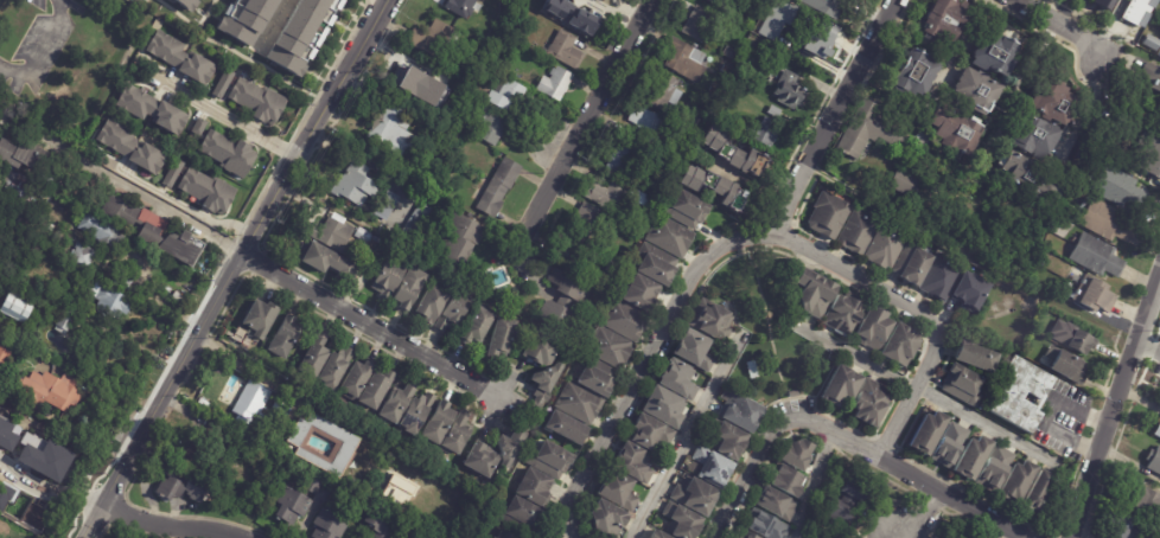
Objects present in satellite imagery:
building: (608, 0)
building: (1105, 0)
building: (191, 2)
building: (719, 4)
building: (824, 6)
building: (463, 7)
building: (592, 8)
building: (1137, 12)
building: (573, 15)
building: (246, 18)
building: (942, 19)
building: (769, 20)
building: (1153, 21)
road: (1063, 24)
road: (276, 25)
building: (695, 25)
building: (304, 33)
building: (805, 38)
building: (434, 39)
building: (773, 39)
building: (1149, 41)
building: (752, 44)
building: (992, 49)
building: (566, 51)
building: (1158, 51)
road: (39, 52)
building: (726, 52)
building: (483, 56)
building: (184, 59)
building: (687, 59)
building: (725, 70)
building: (911, 72)
building: (412, 76)
road: (1020, 76)
building: (1151, 77)
building: (222, 83)
building: (559, 83)
building: (422, 88)
building: (971, 88)
building: (714, 89)
building: (792, 90)
building: (667, 94)
building: (506, 96)
building: (467, 97)
building: (1047, 102)
building: (263, 104)
building: (778, 110)
building: (154, 113)
road: (831, 116)
road: (227, 119)
road: (585, 119)
building: (696, 121)
building: (753, 121)
building: (648, 122)
building: (950, 126)
building: (493, 127)
building: (676, 129)
building: (395, 130)
building: (868, 132)
building: (769, 133)
building: (697, 134)
building: (1027, 134)
building: (1159, 136)
building: (919, 140)
building: (133, 149)
building: (733, 152)
building: (231, 154)
building: (1149, 155)
building: (25, 158)
building: (624, 159)
building: (172, 172)
building: (1026, 175)
building: (1142, 175)
road: (120, 180)
building: (50, 182)
building: (905, 182)
building: (358, 185)
building: (19, 186)
building: (718, 186)
building: (1113, 186)
building: (501, 187)
building: (210, 193)
building: (613, 198)
road: (177, 203)
building: (390, 205)
building: (691, 209)
building: (826, 216)
building: (644, 220)
building: (1102, 220)
building: (416, 223)
building: (914, 230)
building: (856, 231)
building: (103, 232)
building: (579, 232)
building: (158, 233)
building: (338, 235)
building: (365, 235)
building: (674, 236)
road: (742, 237)
building: (380, 239)
building: (460, 242)
building: (884, 246)
building: (1092, 256)
building: (85, 258)
building: (330, 262)
building: (662, 263)
building: (911, 263)
road: (231, 267)
building: (614, 268)
building: (1064, 274)
building: (941, 276)
building: (126, 281)
building: (400, 284)
building: (1066, 284)
building: (968, 292)
building: (809, 293)
building: (645, 295)
building: (1091, 295)
building: (503, 300)
building: (110, 302)
building: (567, 303)
building: (445, 307)
building: (17, 308)
building: (72, 310)
building: (842, 313)
building: (765, 315)
building: (261, 319)
building: (627, 319)
building: (708, 322)
building: (64, 326)
building: (479, 326)
road: (371, 327)
building: (869, 328)
park: (769, 332)
building: (503, 335)
building: (287, 337)
building: (1071, 337)
building: (898, 344)
road: (1149, 346)
building: (612, 347)
building: (546, 348)
building: (690, 350)
building: (317, 356)
building: (970, 356)
building: (4, 361)
building: (1065, 366)
building: (338, 369)
building: (597, 376)
building: (675, 378)
building: (357, 380)
building: (548, 385)
building: (840, 385)
building: (960, 385)
building: (378, 389)
road: (919, 389)
building: (52, 393)
building: (1021, 393)
road: (317, 398)
building: (871, 402)
building: (399, 403)
building: (582, 403)
building: (251, 404)
road: (1116, 405)
building: (661, 406)
building: (420, 412)
road: (1047, 414)
building: (741, 415)
building: (450, 428)
building: (568, 428)
building: (646, 431)
building: (1156, 431)
building: (925, 433)
road: (688, 434)
building: (726, 441)
building: (948, 444)
building: (348, 447)
building: (511, 448)
building: (204, 454)
building: (793, 454)
building: (970, 457)
building: (552, 459)
building: (1154, 460)
building: (483, 461)
building: (630, 462)
building: (710, 468)
building: (993, 469)
road: (909, 472)
road: (745, 475)
building: (785, 480)
building: (1015, 480)
road: (815, 482)
road: (49, 485)
building: (317, 485)
building: (180, 487)
building: (535, 488)
building: (616, 491)
building: (848, 491)
building: (408, 494)
building: (1035, 494)
building: (694, 497)
building: (338, 499)
building: (772, 504)
building: (294, 505)
building: (1147, 505)
building: (837, 514)
road: (923, 514)
building: (521, 515)
building: (605, 519)
building: (682, 523)
building: (330, 525)
building: (383, 525)
building: (761, 525)
road: (168, 526)
building: (1124, 529)
building: (501, 534)
building: (506, 534)
building: (654, 534)
building: (742, 534)
building: (409, 536)
building: (962, 536)

